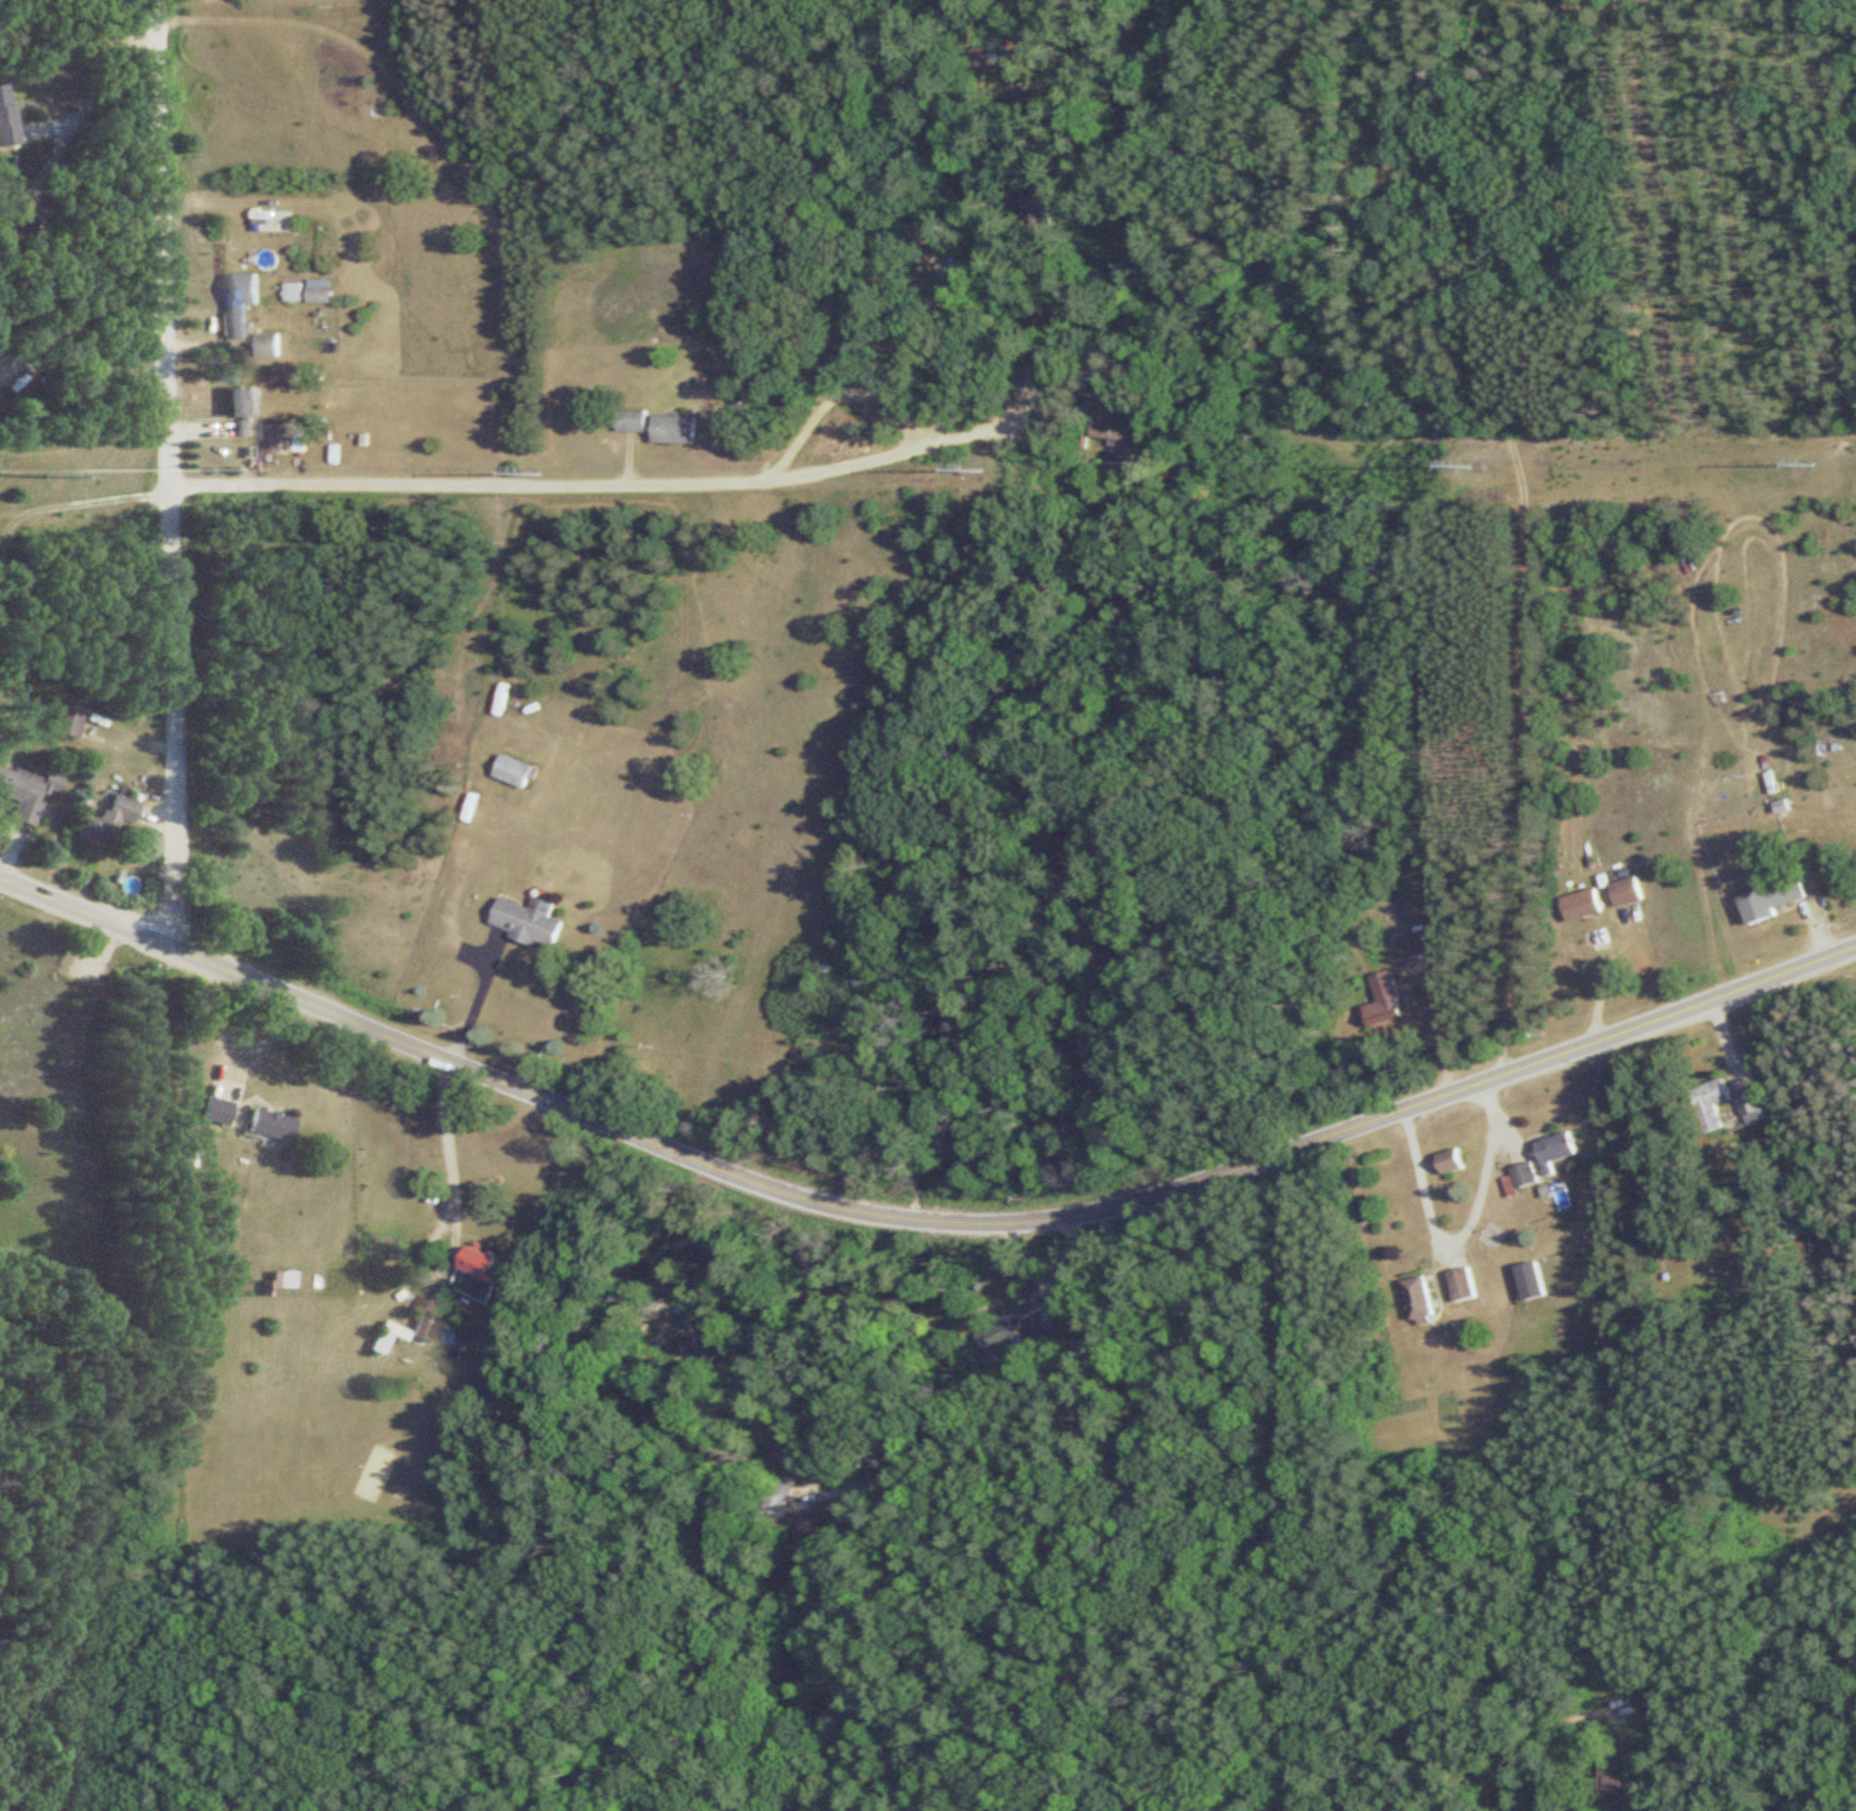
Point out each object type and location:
building: (1004, 54)
road: (1266, 68)
road: (82, 116)
building: (2, 126)
building: (933, 230)
building: (315, 295)
building: (232, 304)
building: (264, 346)
road: (80, 370)
building: (236, 410)
road: (811, 420)
building: (632, 421)
building: (671, 429)
building: (1107, 433)
building: (273, 439)
power tower: (1810, 463)
road: (162, 466)
power tower: (1468, 466)
power tower: (981, 468)
power tower: (536, 475)
power tower: (41, 477)
road: (697, 480)
road: (1524, 525)
building: (57, 721)
building: (511, 773)
building: (22, 795)
building: (114, 809)
building: (82, 830)
building: (1624, 894)
building: (1769, 901)
building: (1578, 906)
building: (524, 923)
building: (1597, 939)
road: (103, 945)
parking lot: (64, 964)
road: (480, 992)
building: (1382, 1003)
building: (1707, 1105)
building: (1748, 1107)
building: (208, 1112)
building: (261, 1125)
road: (1504, 1140)
building: (1554, 1149)
building: (1446, 1163)
road: (457, 1171)
building: (1521, 1176)
road: (917, 1219)
road: (1459, 1235)
building: (477, 1263)
building: (1526, 1281)
building: (1458, 1285)
building: (1414, 1298)
building: (657, 1311)
building: (420, 1317)
building: (380, 1328)
building: (1009, 1334)
building: (708, 1348)
road: (83, 1392)
road: (1278, 1483)
road: (1056, 1487)
building: (779, 1498)
building: (1649, 1702)
road: (1543, 1735)
building: (1613, 1780)

